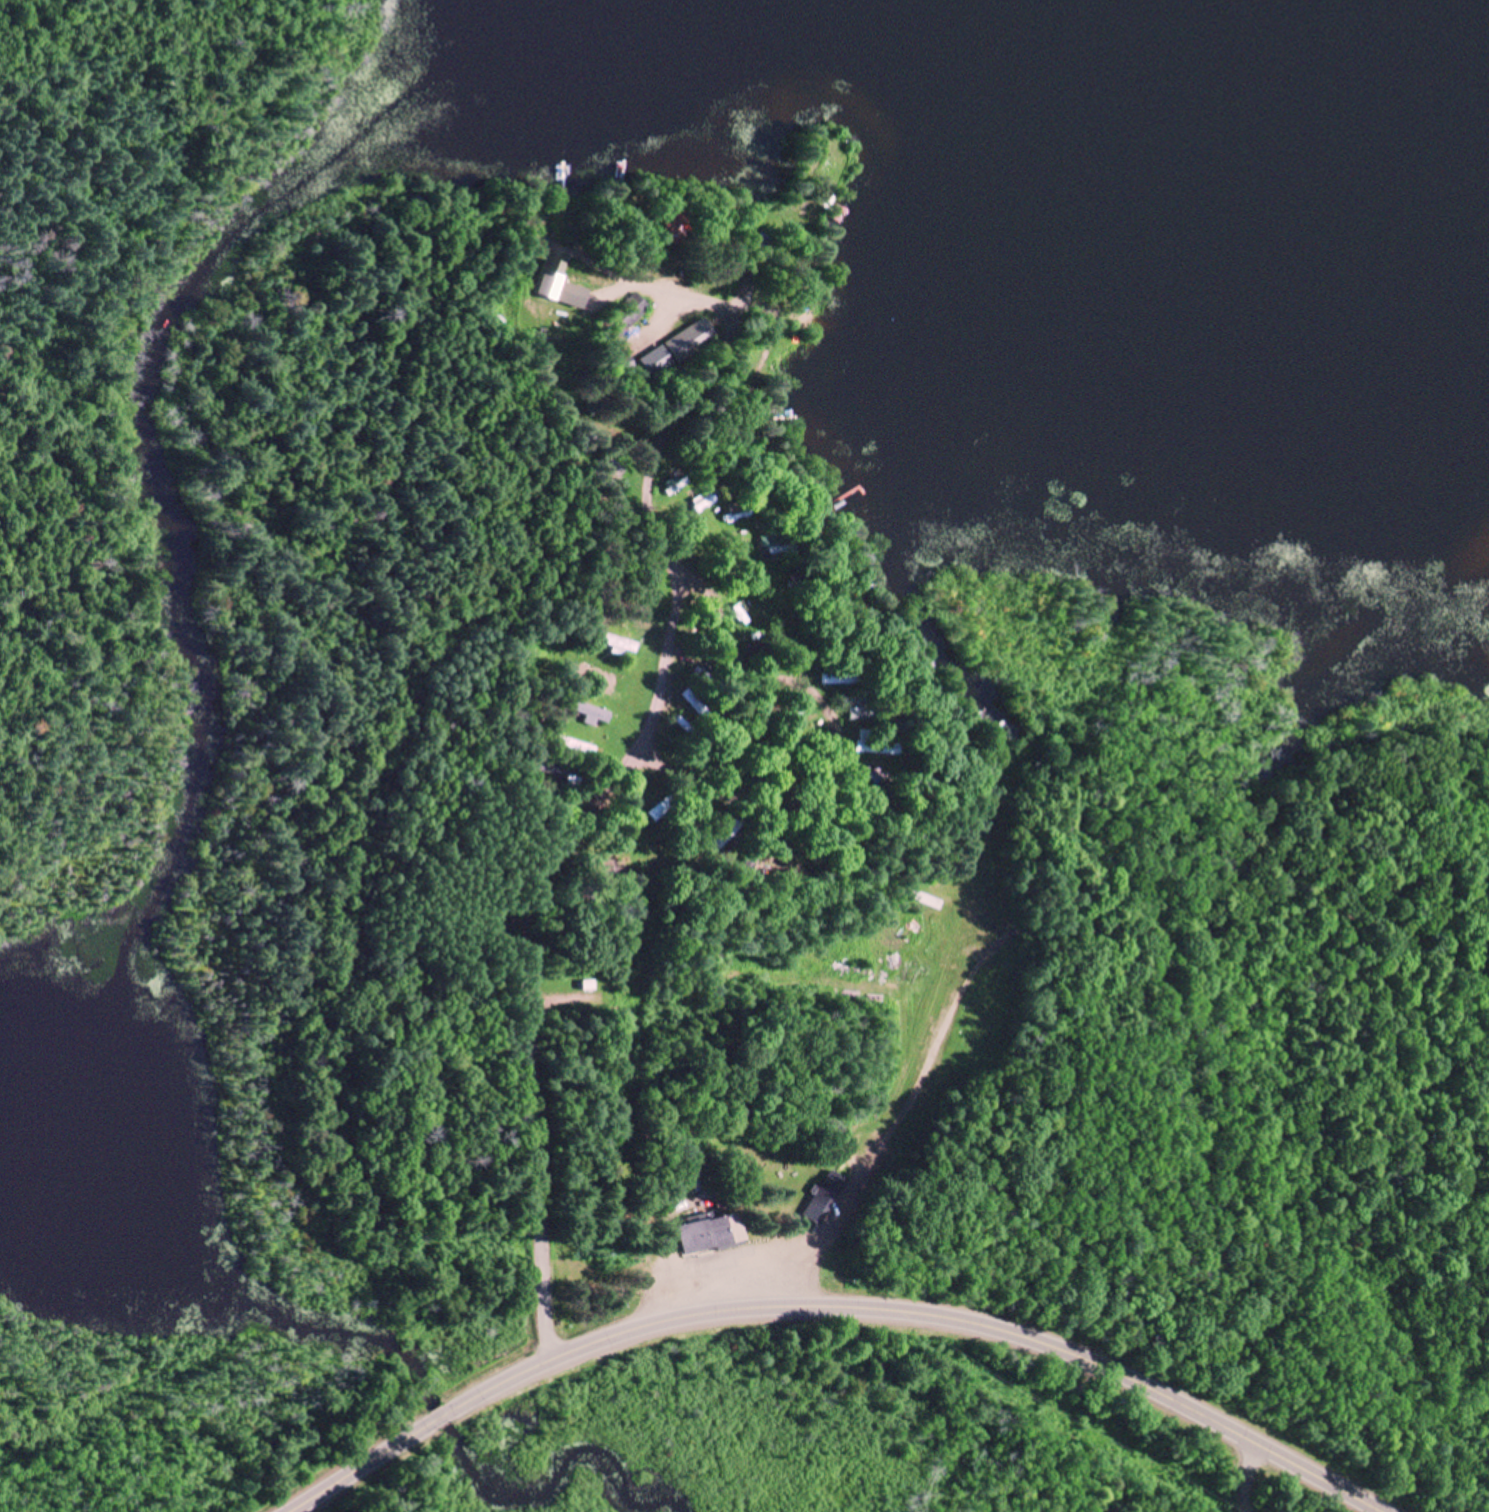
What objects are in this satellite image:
building: (637, 312)
building: (681, 350)
road: (694, 379)
road: (480, 610)
building: (620, 647)
road: (671, 685)
building: (592, 987)
road: (545, 1113)
building: (828, 1197)
building: (717, 1236)
road: (833, 1307)
road: (1256, 1478)

